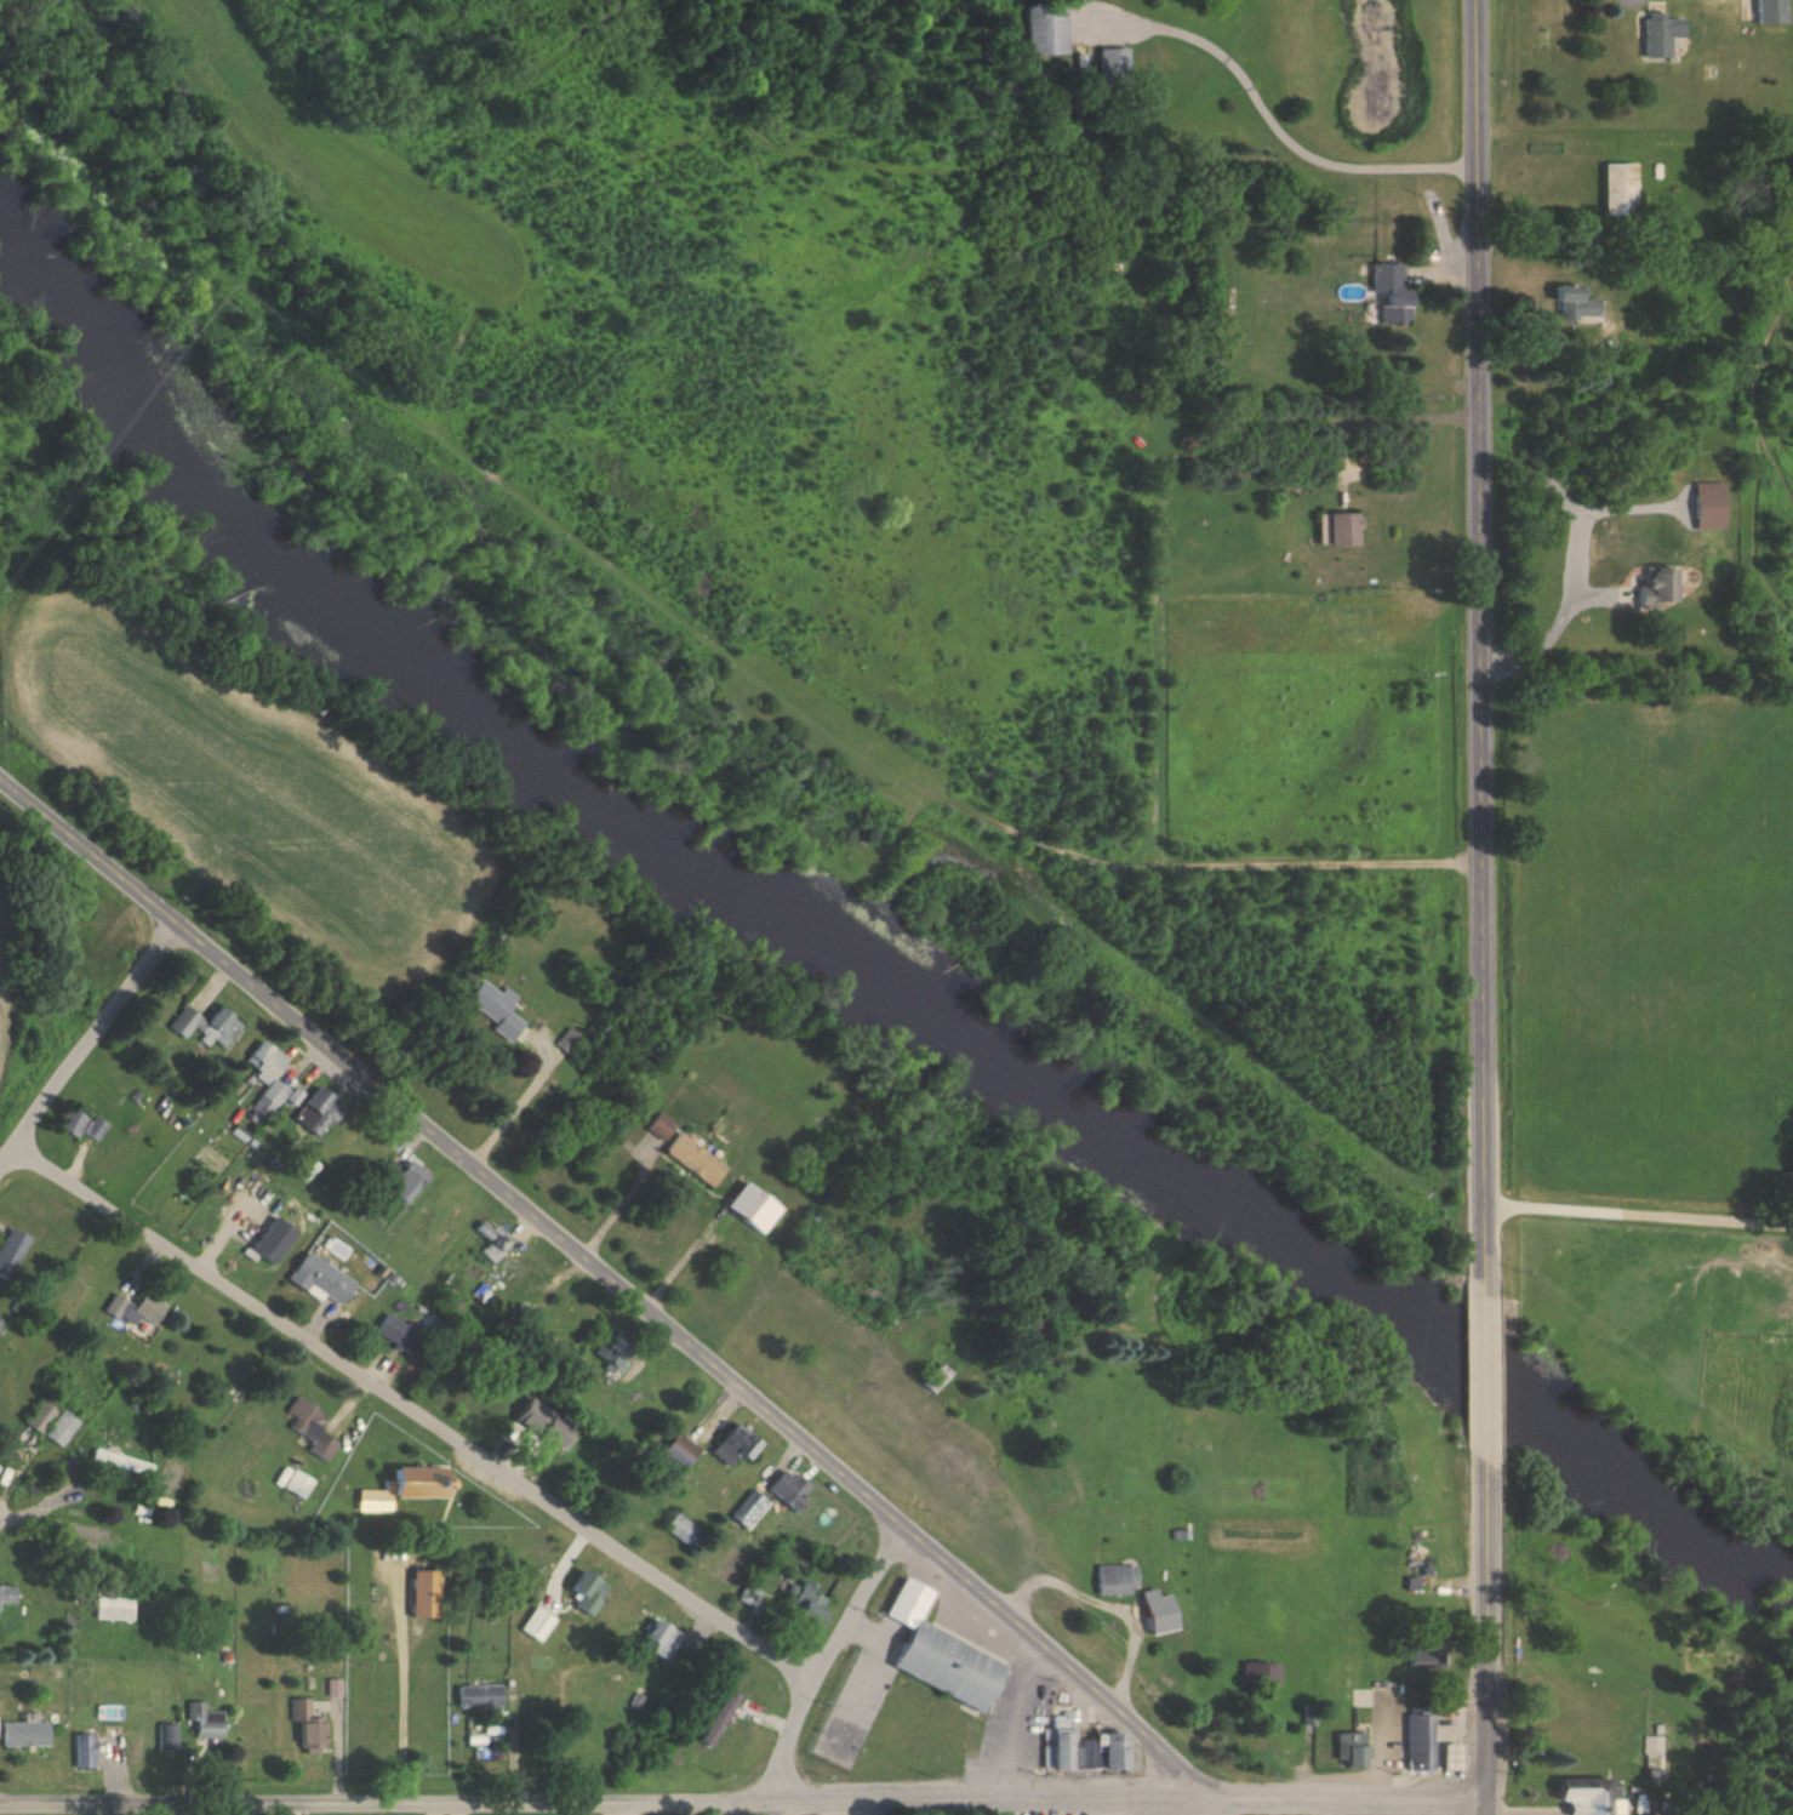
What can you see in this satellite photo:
building: (1770, 11)
building: (1044, 30)
building: (1657, 35)
building: (1112, 63)
road: (1303, 145)
building: (1617, 190)
building: (1389, 293)
building: (1570, 303)
road: (1412, 416)
building: (1341, 530)
building: (1652, 587)
road: (670, 605)
road: (1481, 643)
road: (1541, 646)
building: (1486, 721)
road: (1469, 912)
building: (90, 915)
river: (844, 970)
building: (493, 1009)
building: (183, 1023)
building: (216, 1029)
building: (566, 1041)
road: (86, 1048)
building: (264, 1062)
building: (273, 1094)
building: (137, 1097)
road: (514, 1102)
building: (318, 1111)
building: (80, 1125)
building: (657, 1126)
building: (691, 1159)
building: (399, 1180)
road: (1639, 1208)
building: (748, 1209)
building: (490, 1240)
building: (12, 1251)
building: (318, 1277)
building: (518, 1277)
road: (616, 1278)
building: (136, 1308)
building: (523, 1319)
building: (1030, 1319)
building: (0, 1322)
building: (398, 1335)
building: (611, 1348)
road: (1486, 1372)
building: (935, 1377)
road: (416, 1412)
building: (41, 1417)
building: (310, 1428)
building: (558, 1433)
building: (730, 1444)
building: (675, 1450)
building: (122, 1462)
building: (301, 1488)
building: (399, 1488)
building: (787, 1488)
building: (744, 1507)
road: (1, 1520)
building: (683, 1529)
building: (1114, 1579)
building: (584, 1592)
building: (6, 1593)
building: (748, 1596)
building: (806, 1603)
building: (908, 1604)
road: (1109, 1604)
building: (113, 1605)
building: (537, 1623)
road: (1486, 1629)
building: (657, 1638)
building: (1426, 1650)
road: (824, 1661)
building: (949, 1670)
building: (1261, 1672)
building: (725, 1674)
road: (863, 1674)
road: (409, 1677)
building: (337, 1686)
building: (479, 1694)
building: (638, 1700)
building: (1311, 1713)
building: (718, 1718)
building: (205, 1720)
road: (1006, 1722)
building: (308, 1726)
building: (24, 1730)
building: (170, 1740)
building: (1418, 1741)
building: (1080, 1747)
building: (1349, 1748)
building: (82, 1751)
building: (1446, 1757)
building: (1586, 1794)
road: (1351, 1799)
road: (607, 1804)
road: (1216, 1807)
road: (1372, 1807)
road: (1486, 1808)
road: (435, 1809)
road: (459, 1809)
road: (627, 1809)

